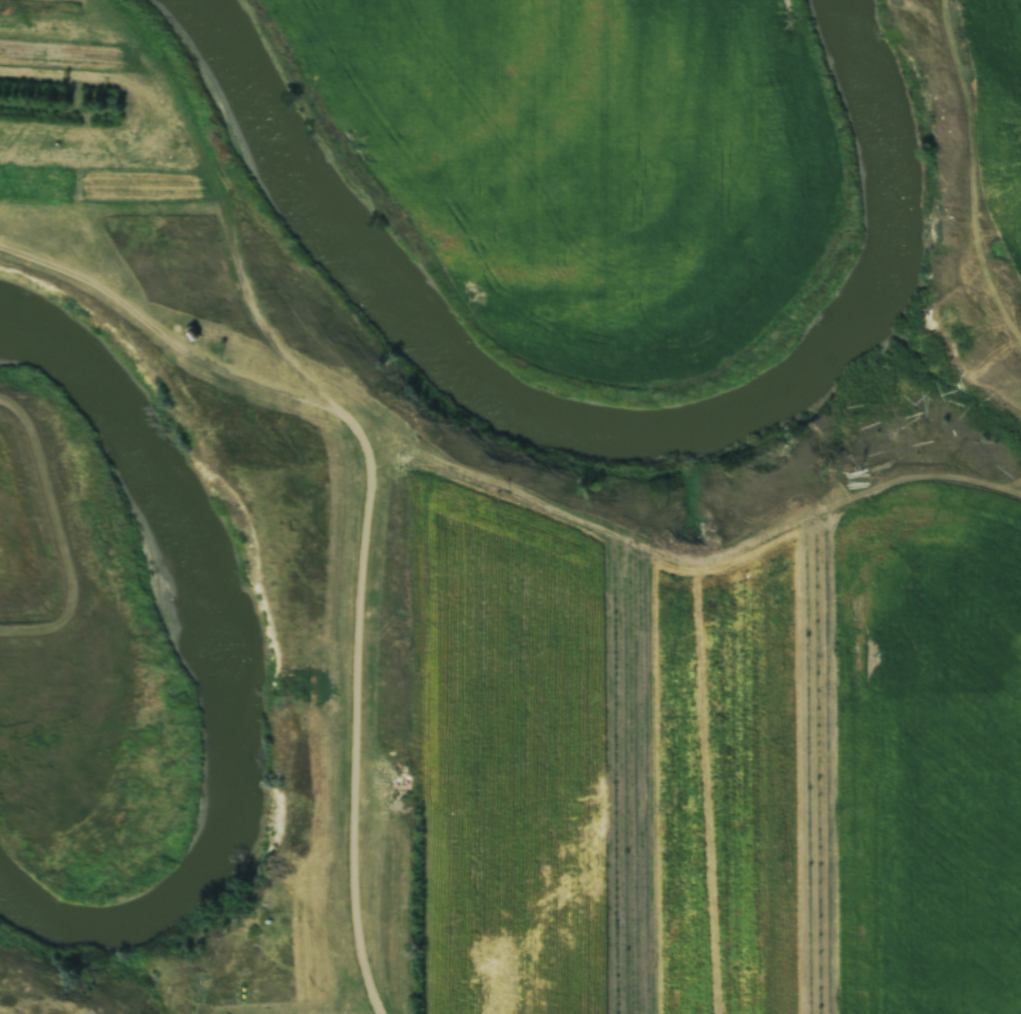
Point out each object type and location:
river: (598, 441)
river: (212, 681)

